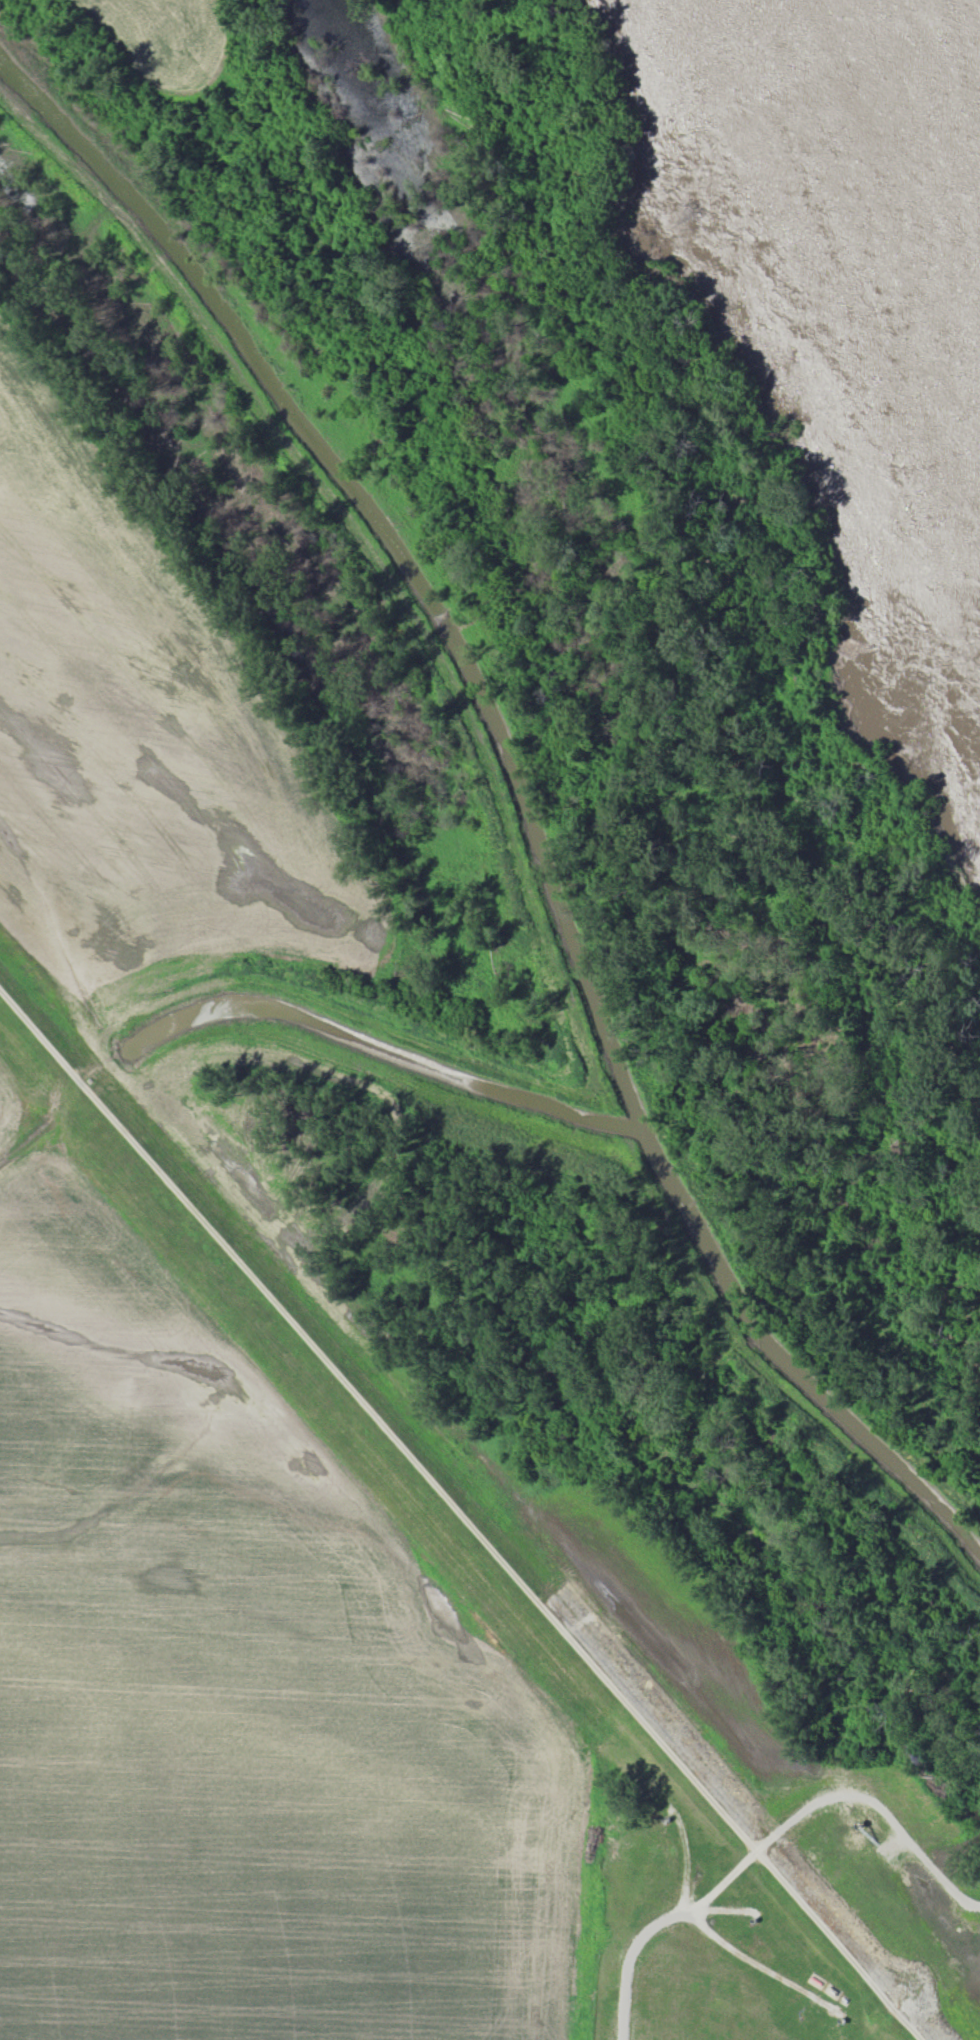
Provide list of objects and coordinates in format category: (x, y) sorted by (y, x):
crop: (167, 43)
crop: (139, 745)
road: (457, 1512)
crop: (662, 1622)
crop: (239, 1692)
crop: (969, 1997)
crop: (719, 1999)

